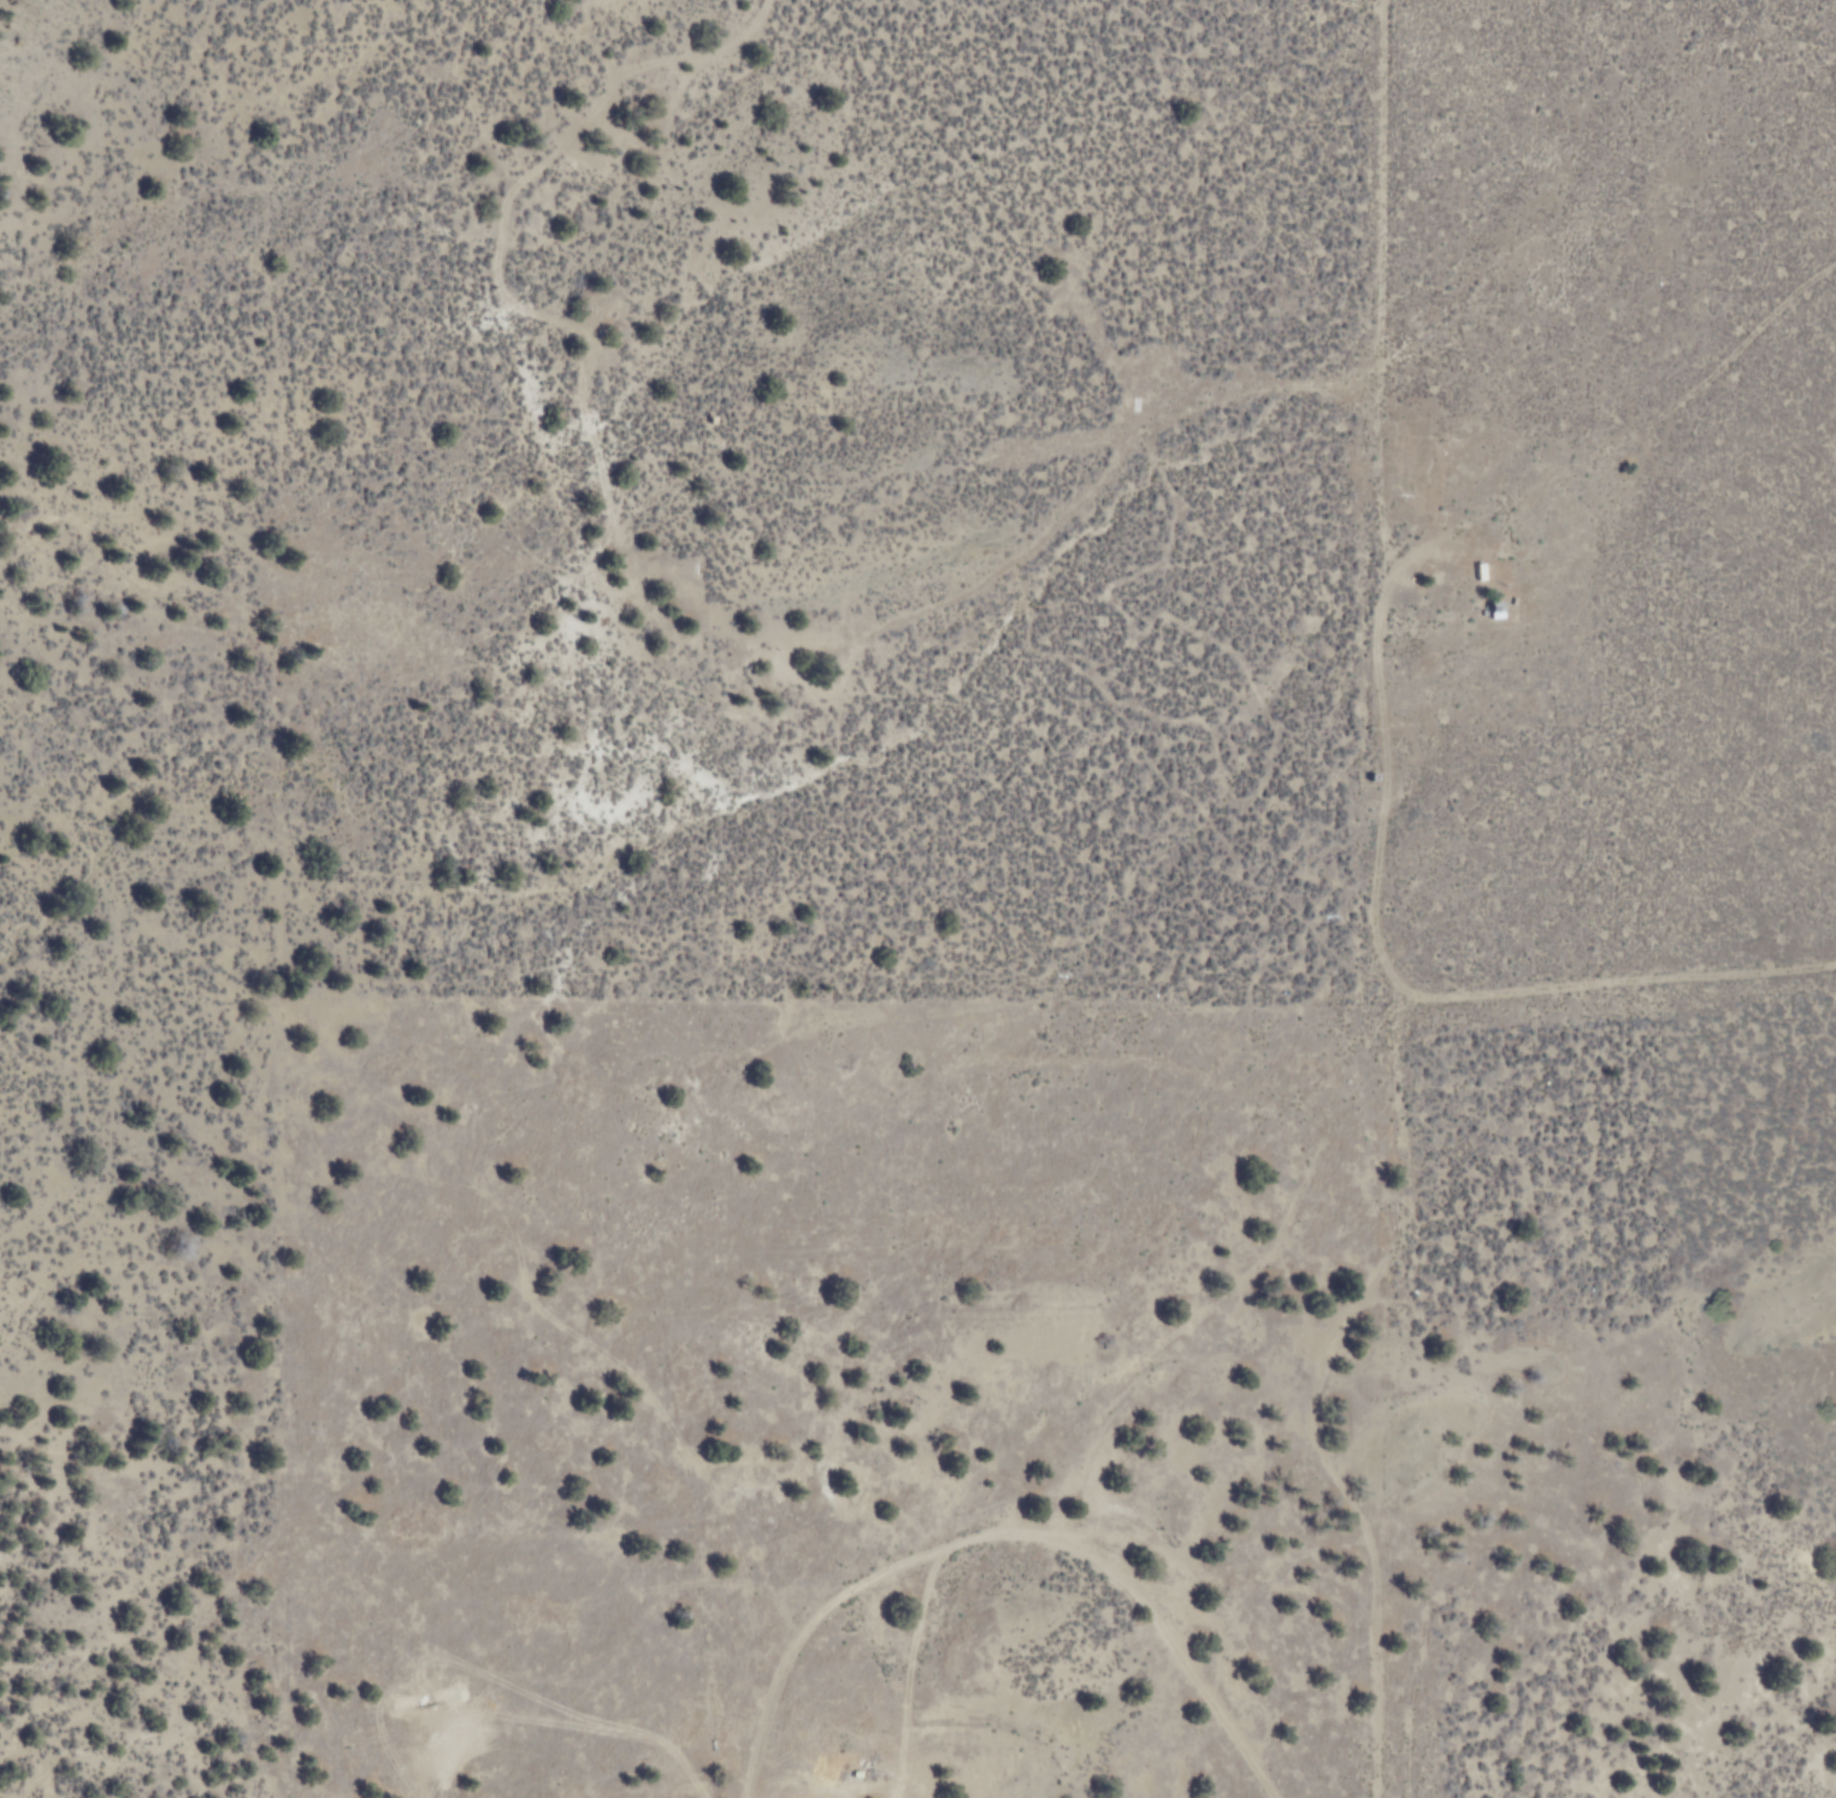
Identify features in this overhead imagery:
road: (1404, 499)
road: (1620, 989)

